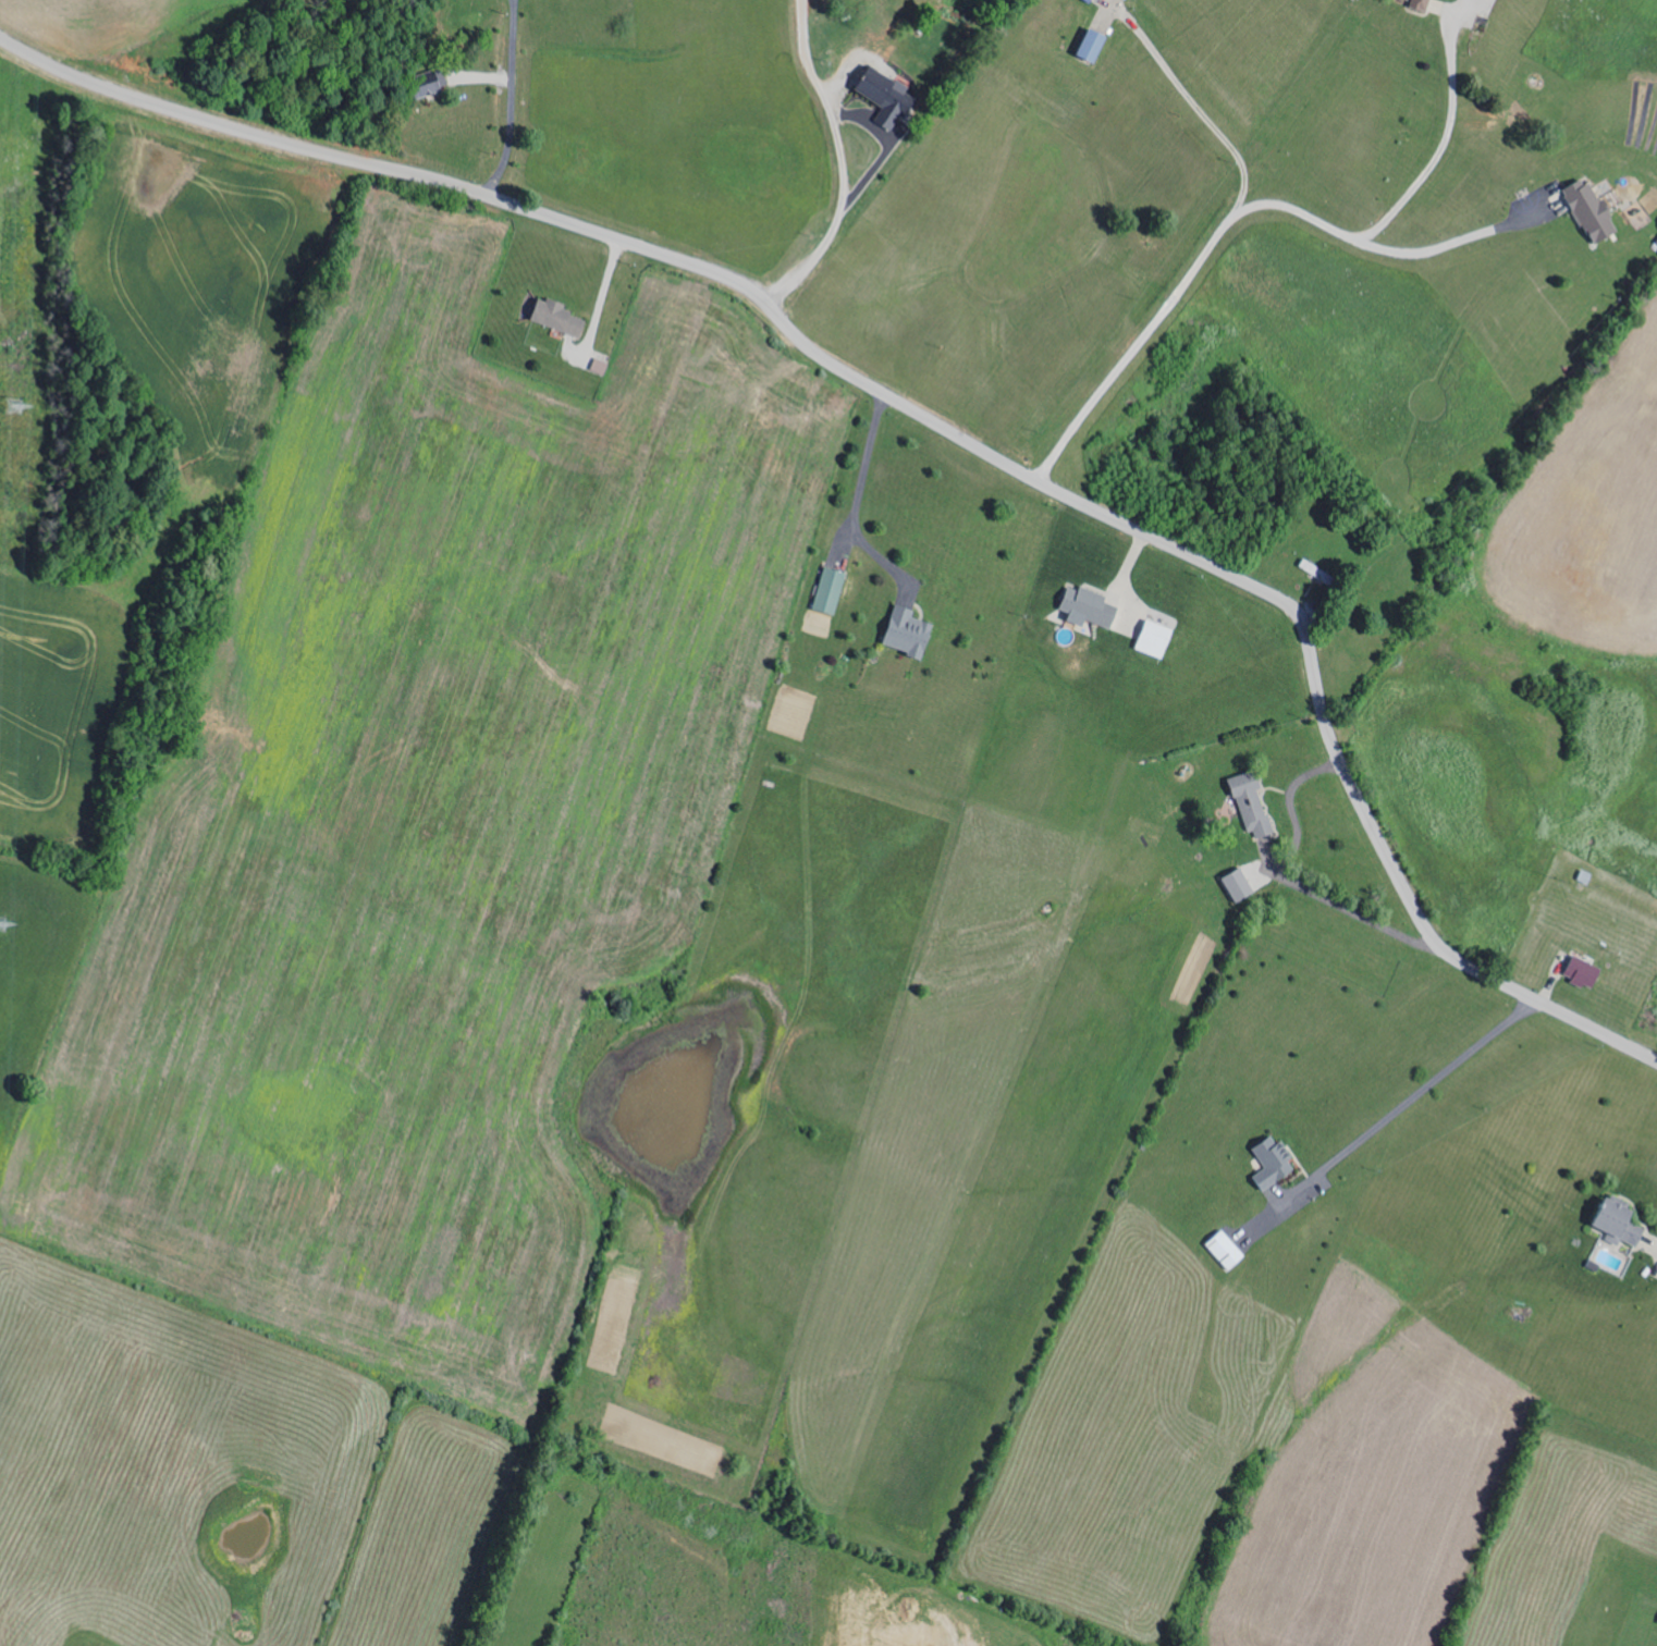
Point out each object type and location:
building: (1423, 4)
building: (1094, 44)
building: (888, 96)
road: (511, 100)
road: (844, 162)
road: (1260, 206)
building: (1593, 210)
road: (1449, 245)
building: (560, 317)
power tower: (19, 420)
road: (931, 422)
road: (858, 499)
building: (831, 590)
building: (1092, 607)
building: (910, 632)
building: (1158, 639)
building: (1245, 801)
building: (1230, 883)
building: (1578, 972)
road: (1411, 1098)
building: (1265, 1160)
building: (1608, 1221)
building: (1219, 1249)
building: (1656, 1620)

